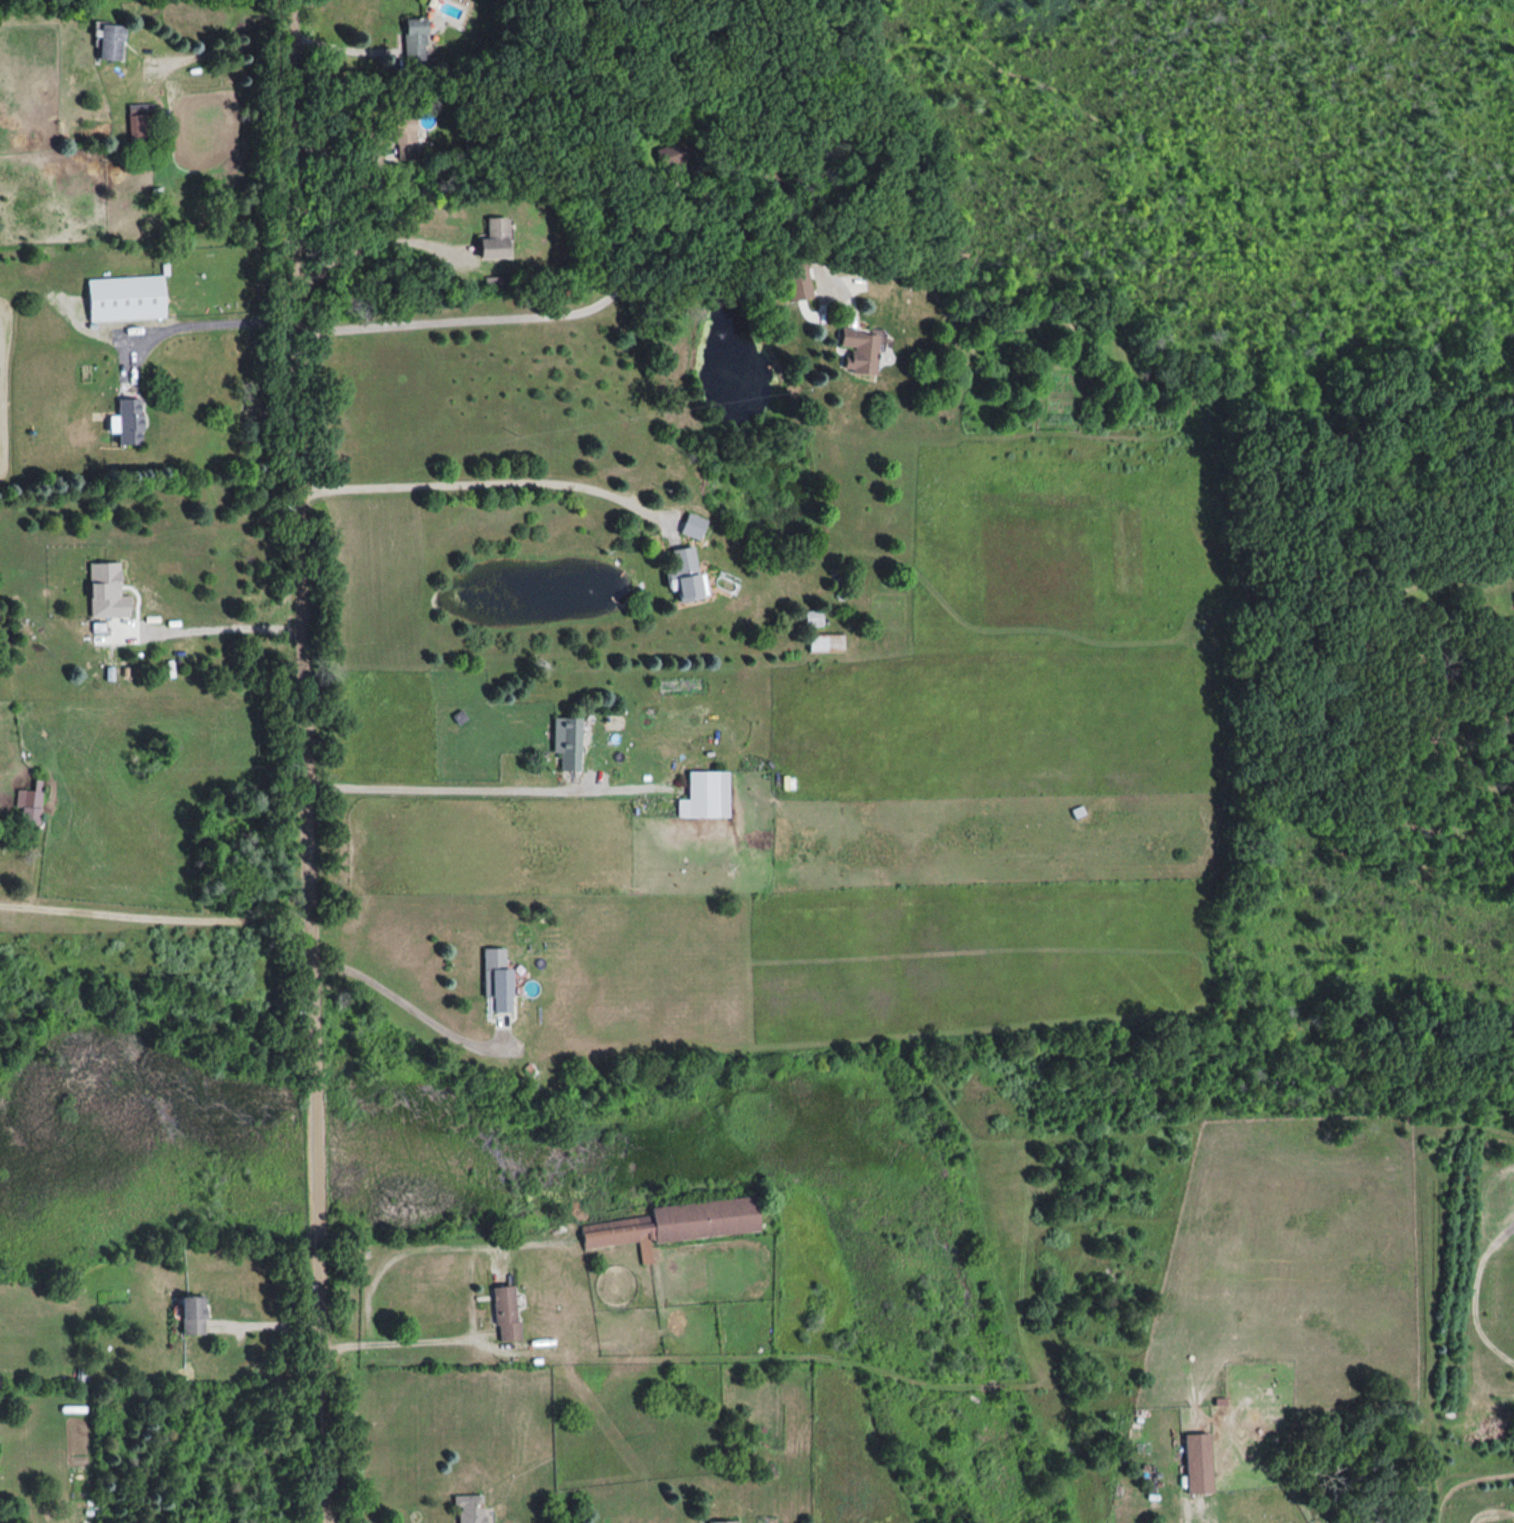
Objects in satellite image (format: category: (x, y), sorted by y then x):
building: (413, 39)
building: (109, 41)
road: (339, 46)
road: (221, 51)
building: (139, 124)
building: (403, 137)
building: (491, 238)
road: (372, 247)
road: (621, 280)
building: (793, 280)
building: (122, 297)
road: (199, 320)
building: (857, 350)
building: (125, 420)
road: (482, 483)
building: (690, 525)
building: (680, 573)
road: (213, 626)
building: (565, 741)
road: (306, 761)
road: (483, 788)
building: (703, 794)
building: (31, 806)
road: (154, 909)
building: (493, 976)
road: (409, 1006)
building: (671, 1223)
building: (503, 1311)
building: (187, 1313)
road: (269, 1324)
road: (400, 1340)
building: (1195, 1462)
building: (465, 1508)
building: (720, 1521)

